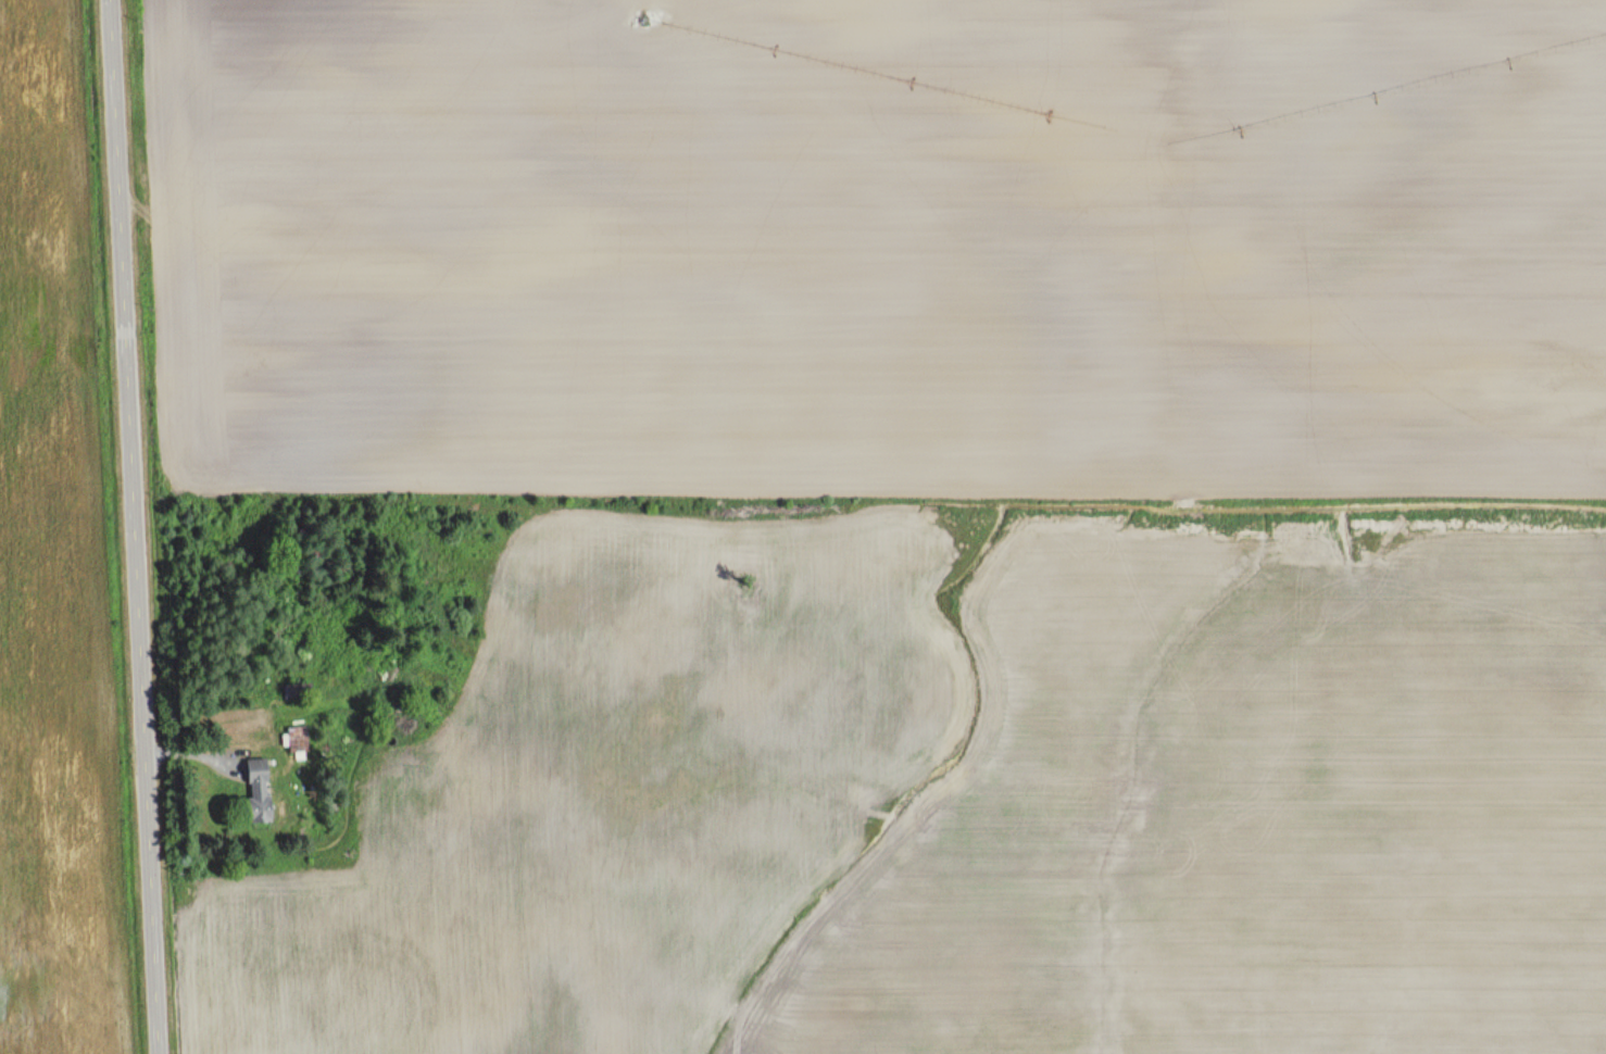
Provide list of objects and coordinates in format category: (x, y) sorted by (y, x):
road: (131, 526)
building: (298, 691)
building: (301, 740)
building: (260, 790)

